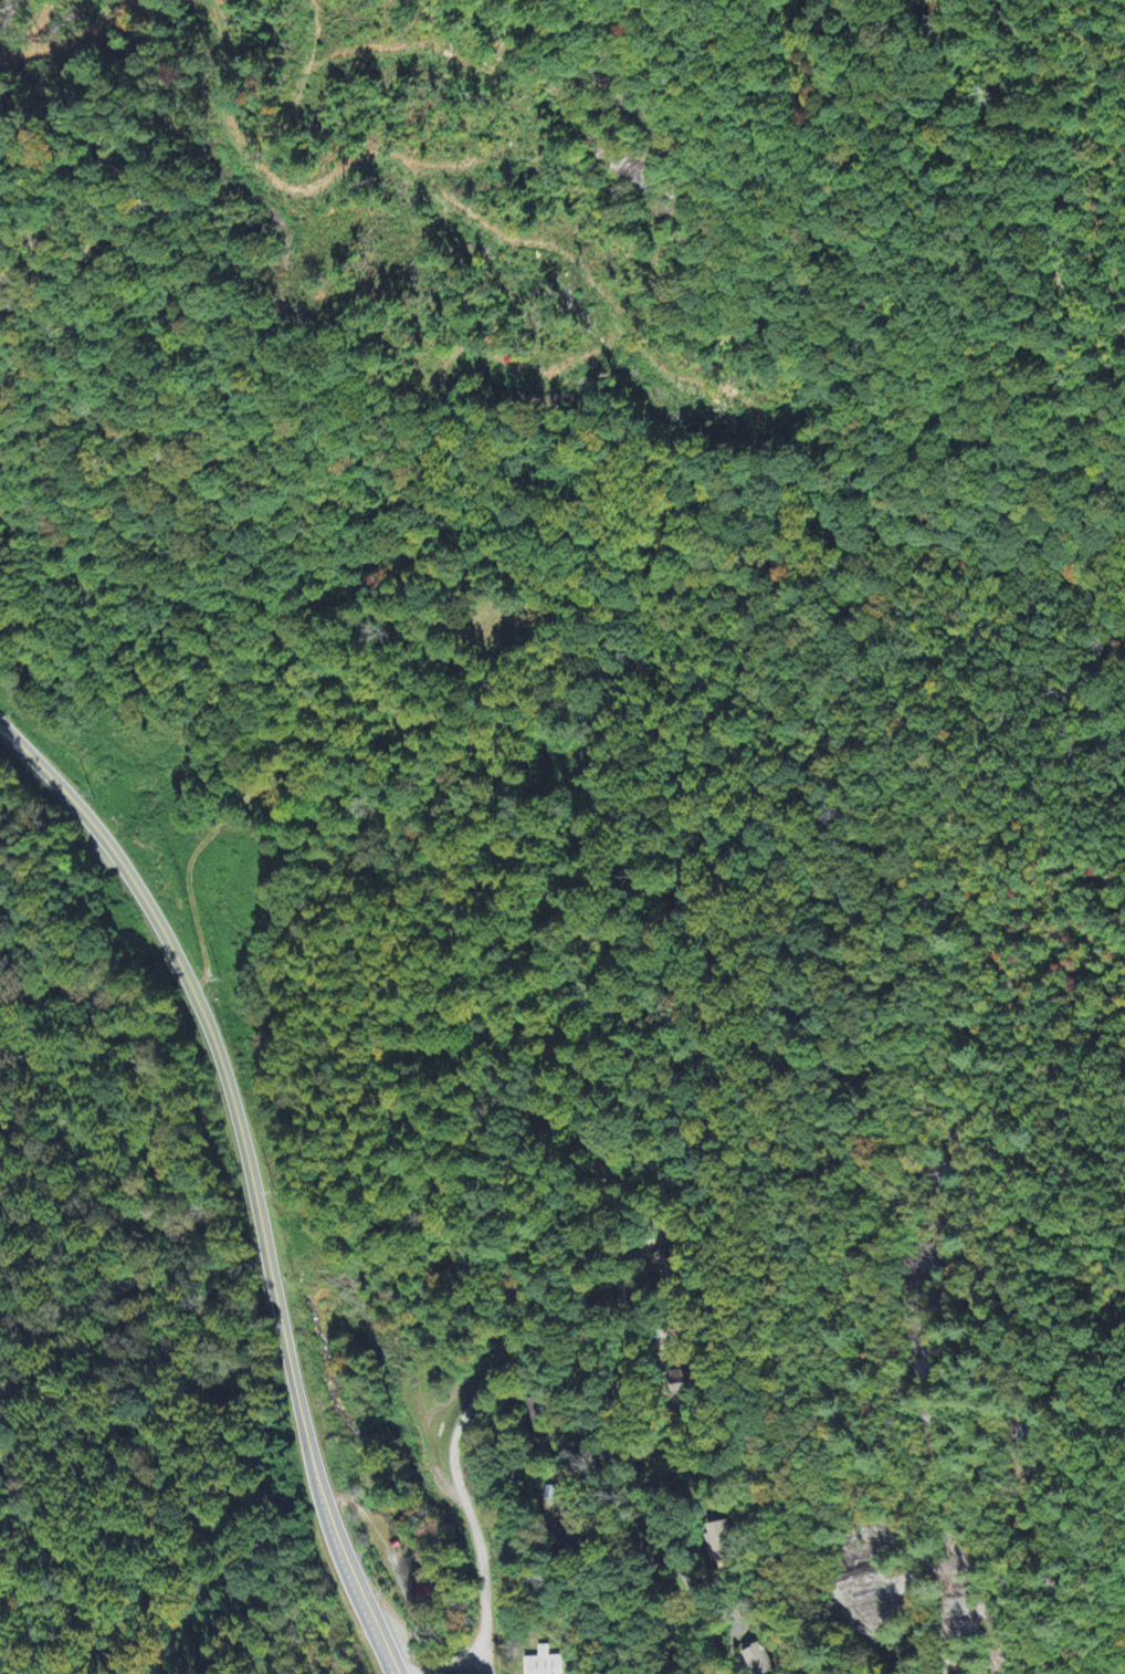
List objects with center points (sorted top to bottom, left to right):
road: (549, 1128)
road: (249, 1174)
building: (683, 1387)
building: (719, 1540)
building: (757, 1661)
building: (544, 1664)

